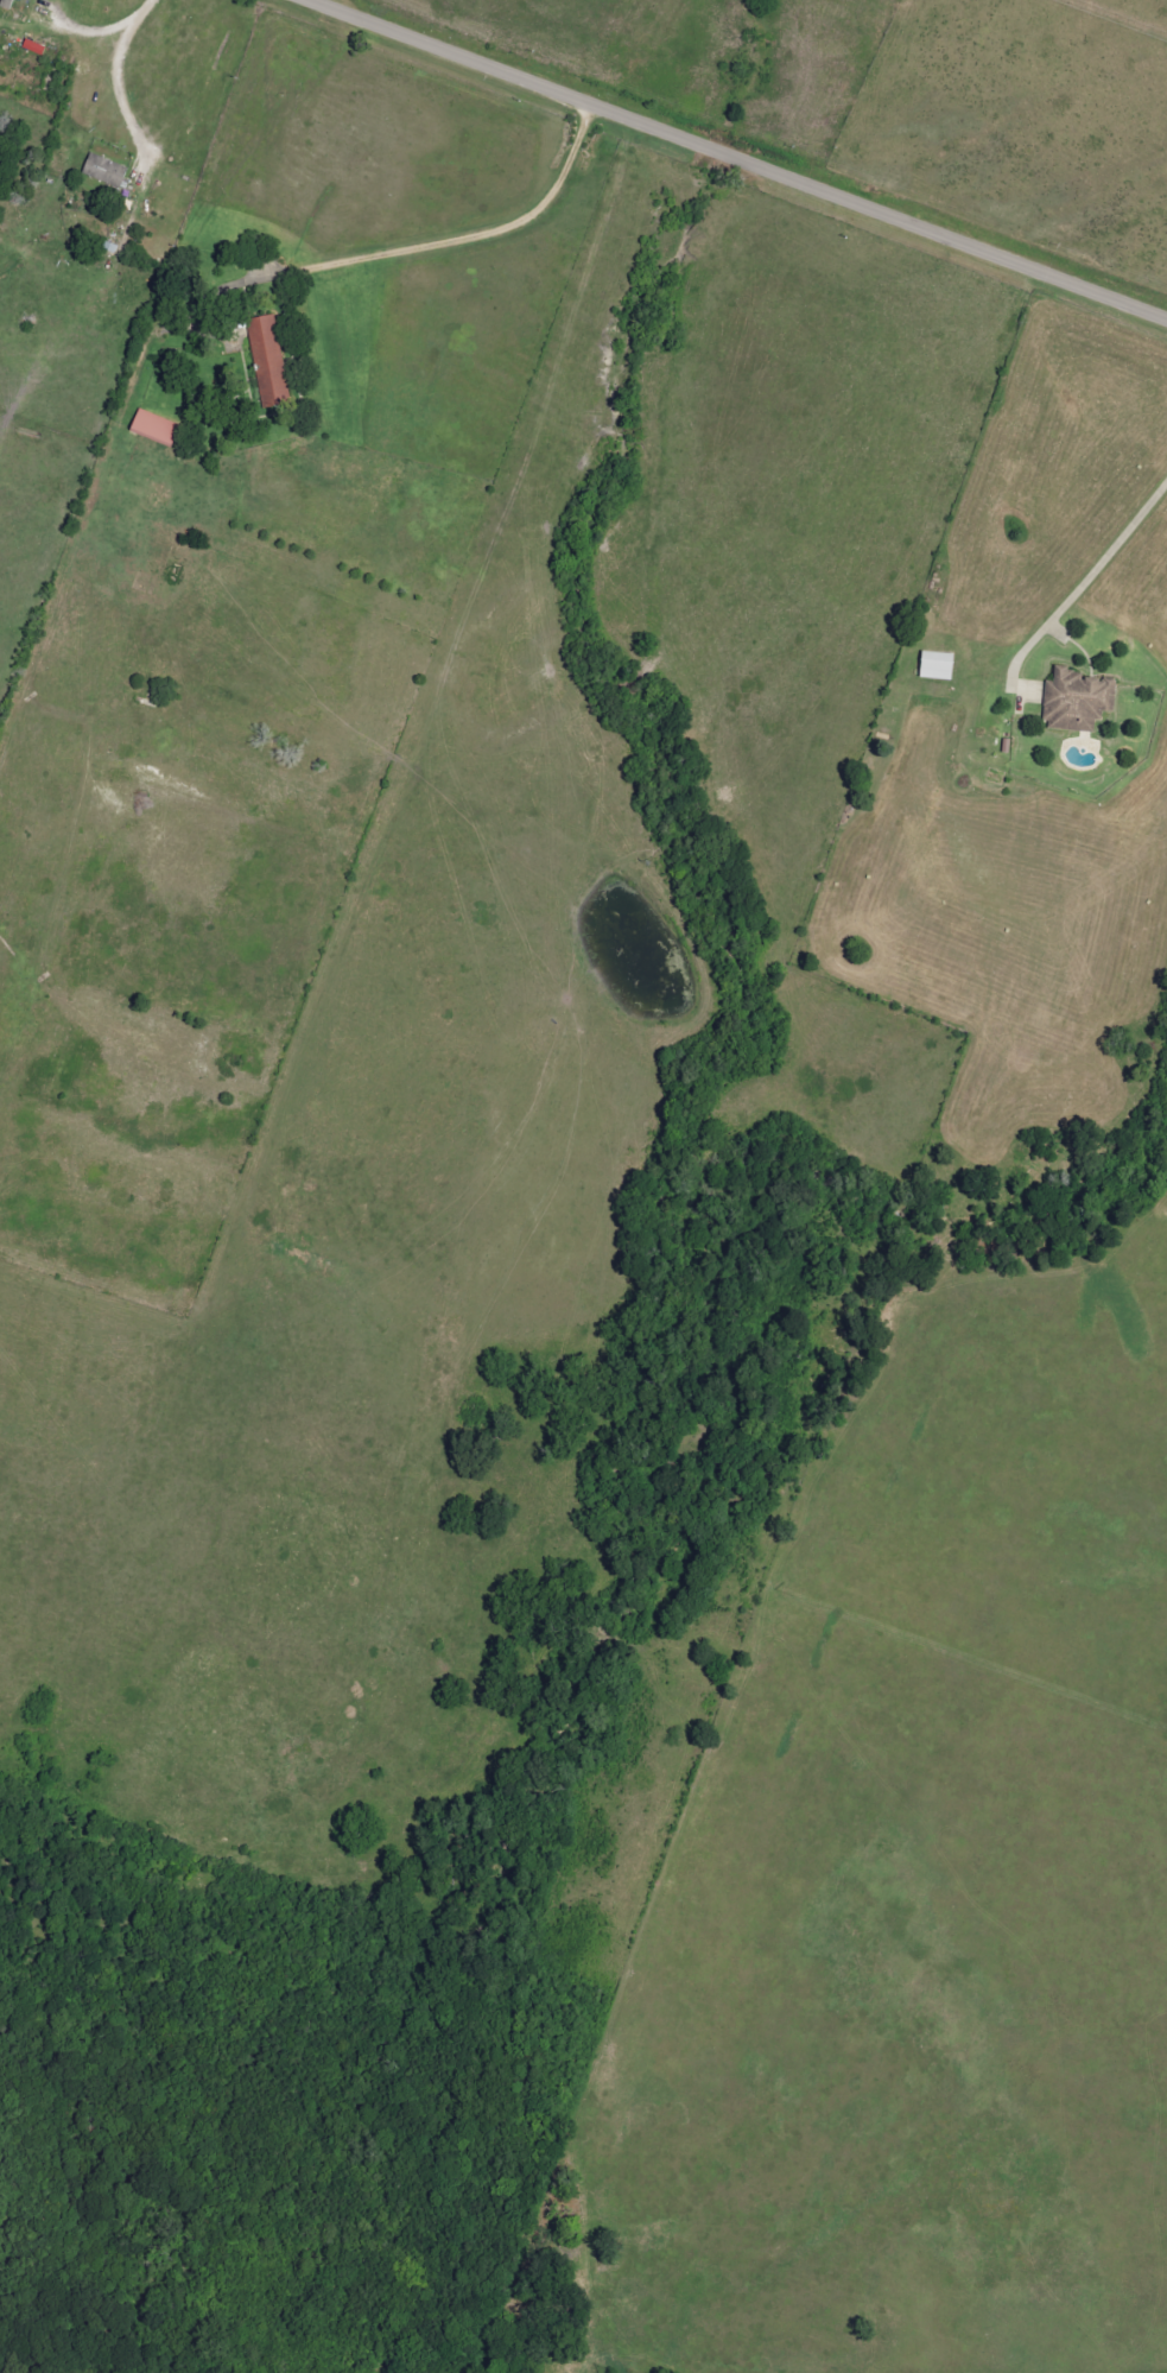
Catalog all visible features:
building: (9, 5)
road: (83, 36)
road: (116, 86)
road: (721, 153)
building: (106, 172)
road: (400, 255)
building: (269, 363)
building: (157, 430)
road: (1077, 594)
building: (938, 666)
building: (1078, 702)

